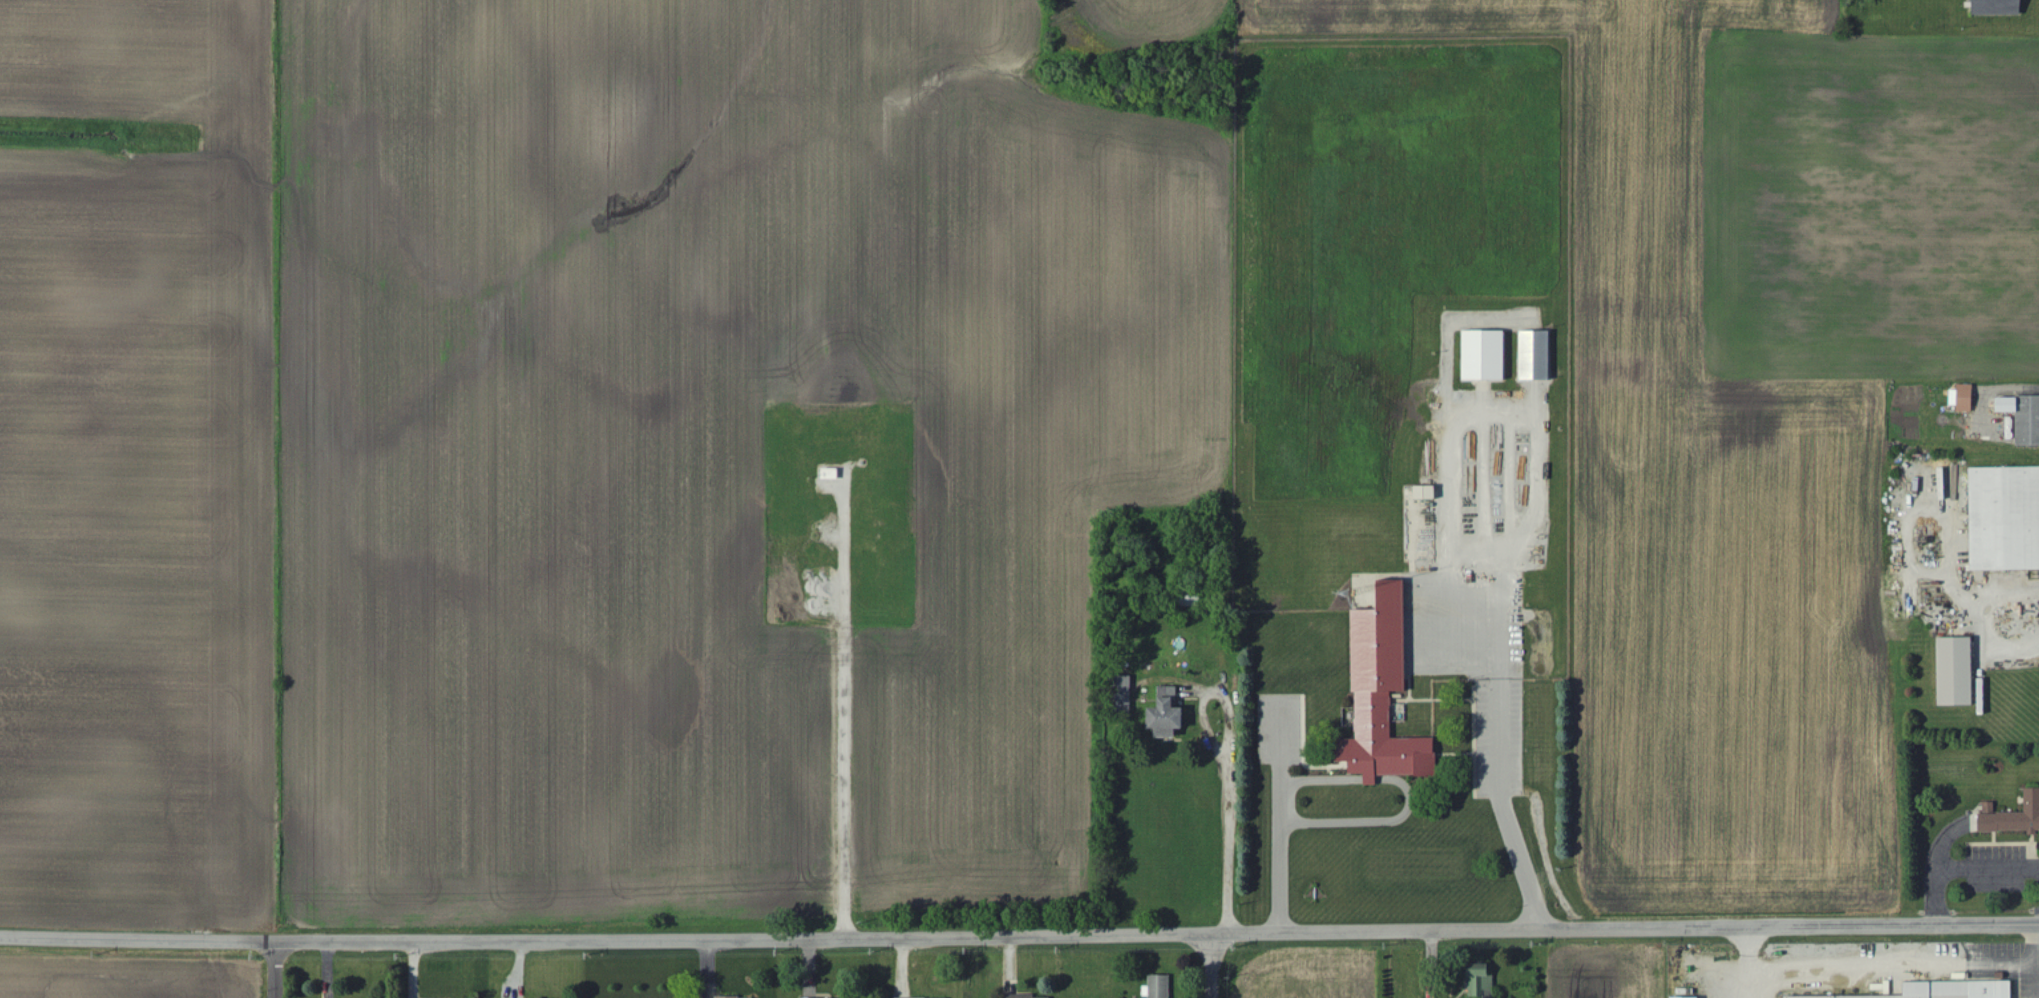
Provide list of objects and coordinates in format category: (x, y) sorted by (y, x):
building: (1998, 7)
building: (1486, 356)
building: (1537, 356)
building: (1966, 398)
building: (2024, 418)
building: (1426, 493)
building: (2005, 519)
building: (1957, 672)
building: (1383, 694)
building: (1168, 714)
road: (1496, 770)
road: (1227, 786)
building: (2012, 816)
road: (1281, 817)
road: (1157, 935)
road: (138, 940)
road: (1211, 966)
road: (276, 970)
building: (1481, 980)
building: (1160, 986)
building: (1946, 990)
building: (1024, 996)
building: (750, 997)
building: (1692, 997)

